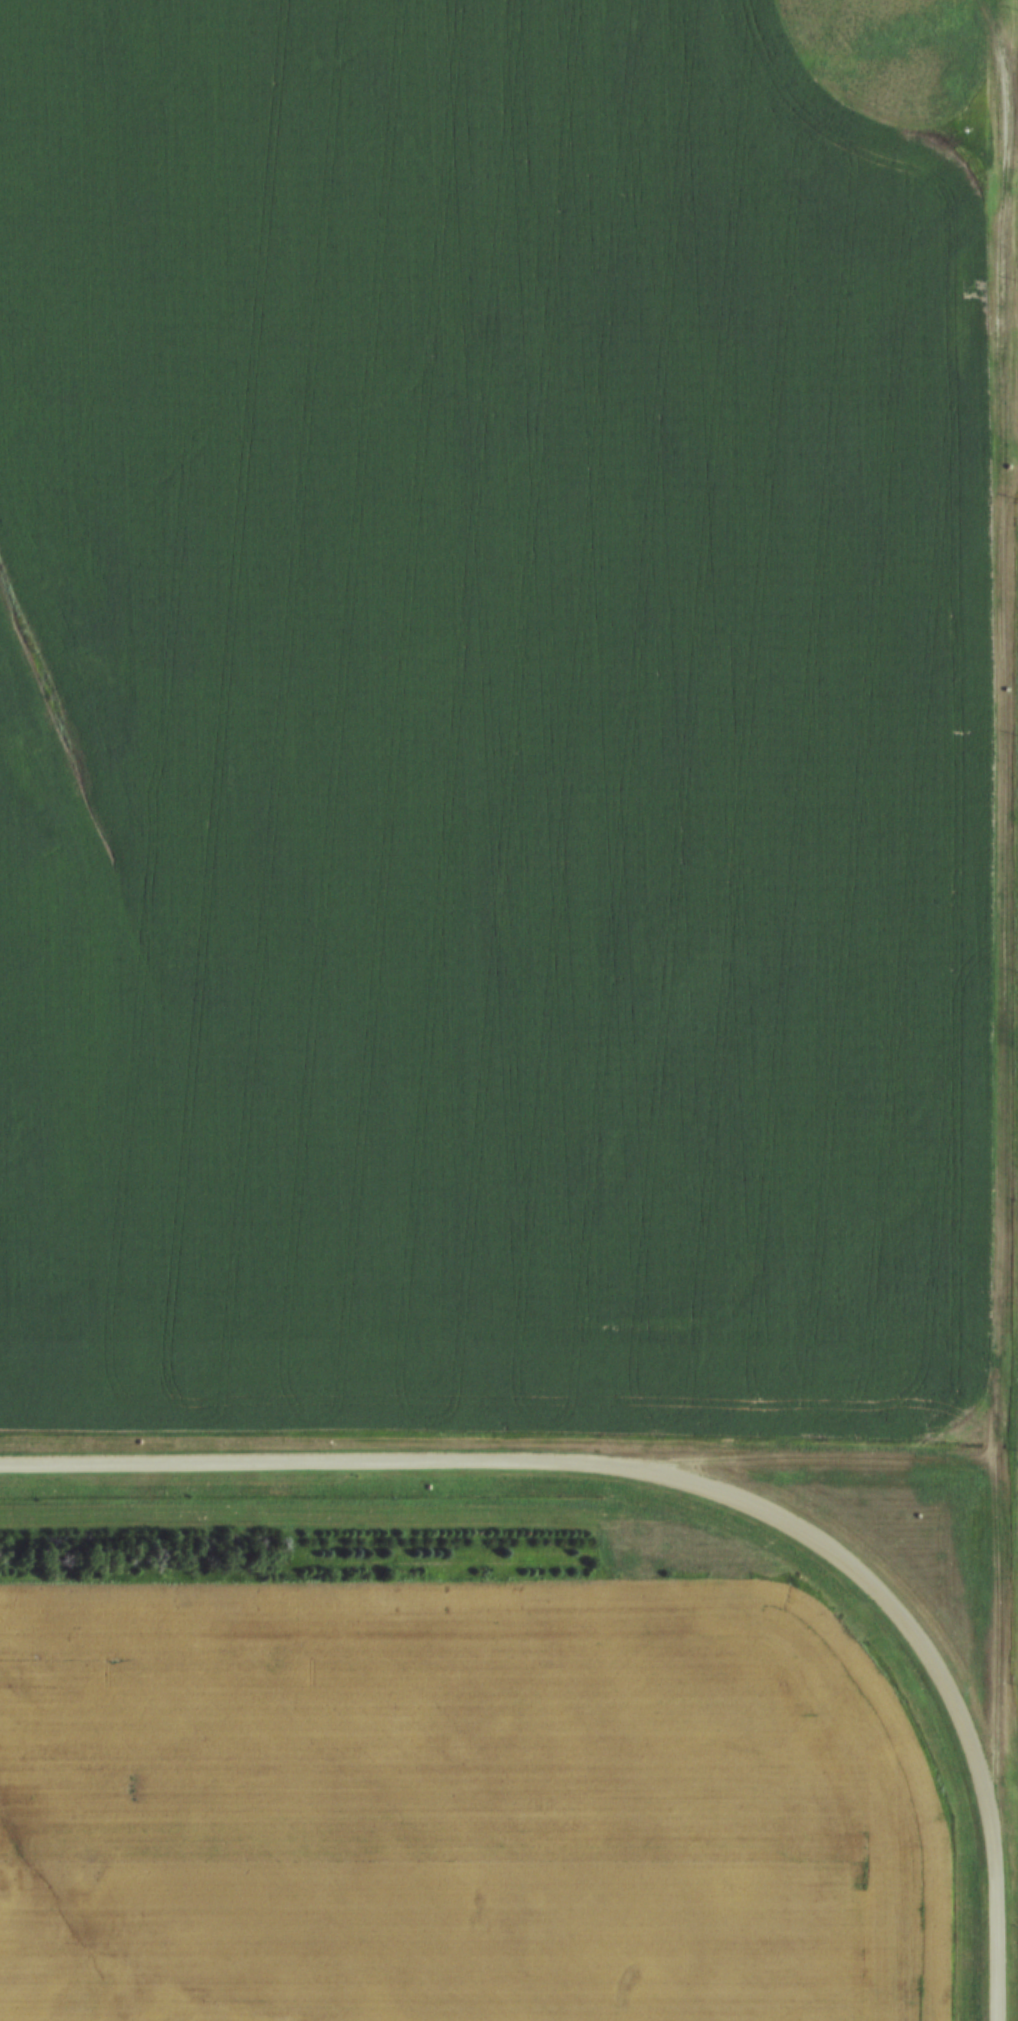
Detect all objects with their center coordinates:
road: (1000, 908)
road: (818, 1465)
road: (686, 1479)

